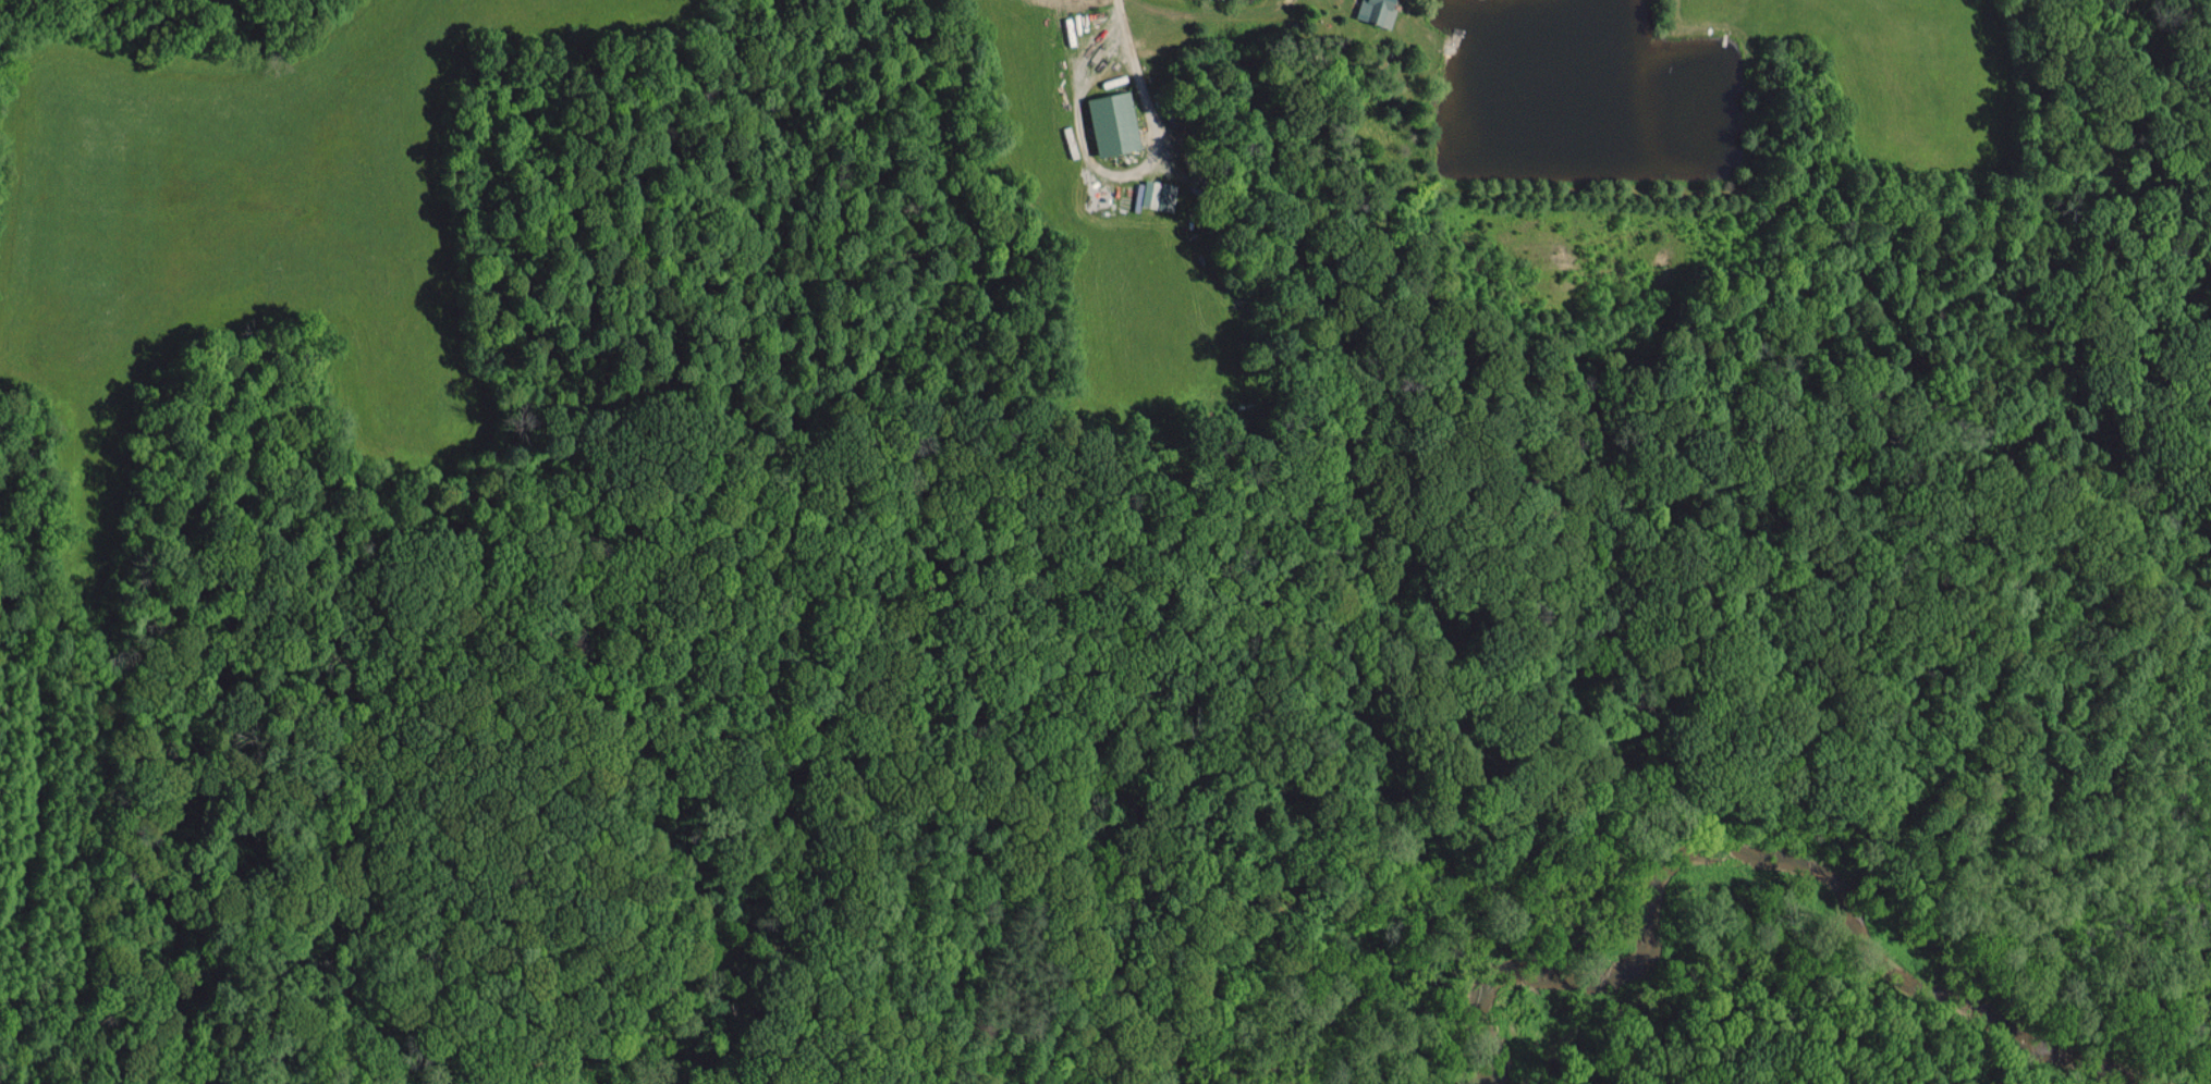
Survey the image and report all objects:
building: (1371, 11)
road: (1135, 60)
building: (1105, 122)

